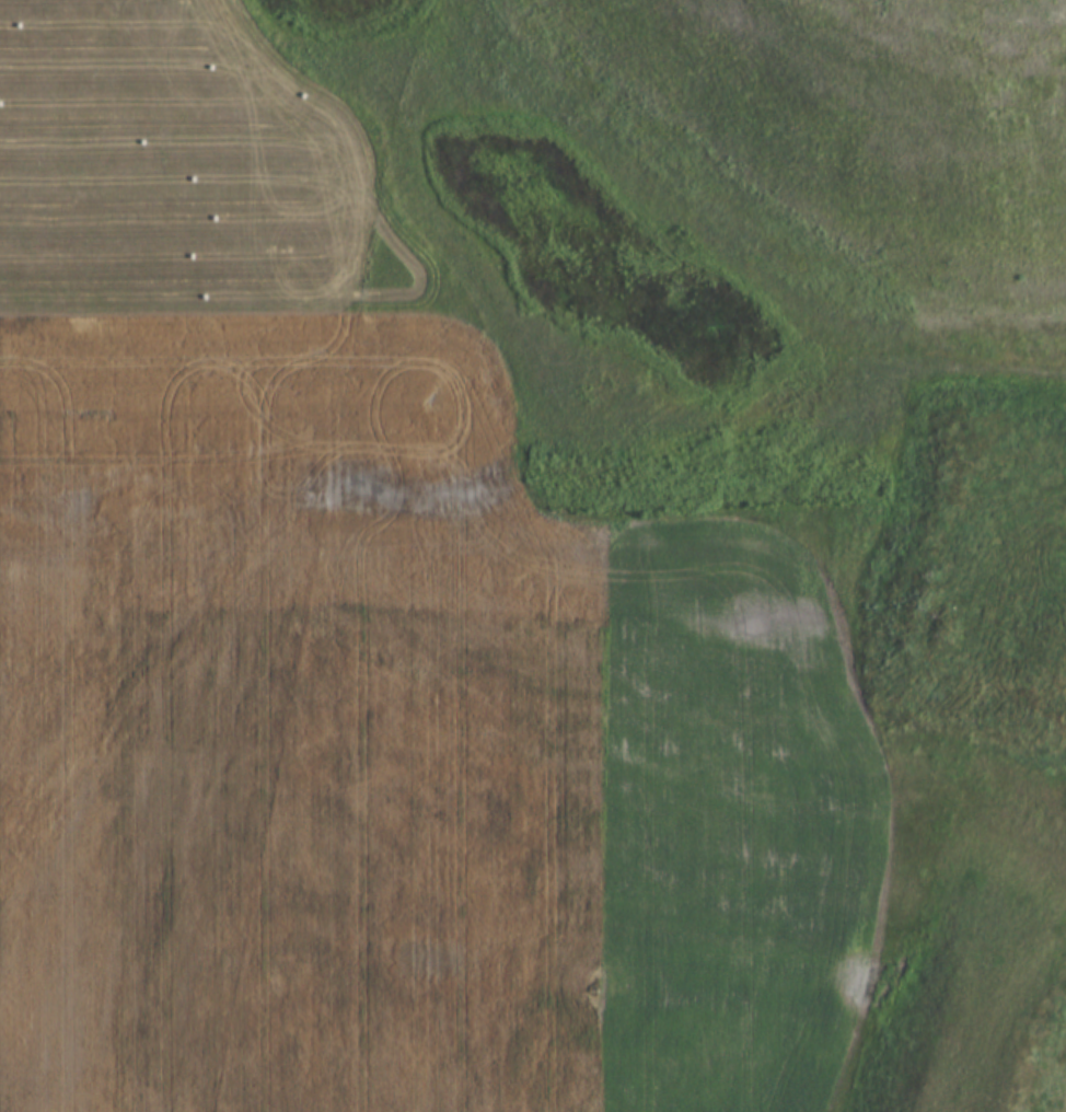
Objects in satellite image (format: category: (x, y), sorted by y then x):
quarry: (477, 294)

